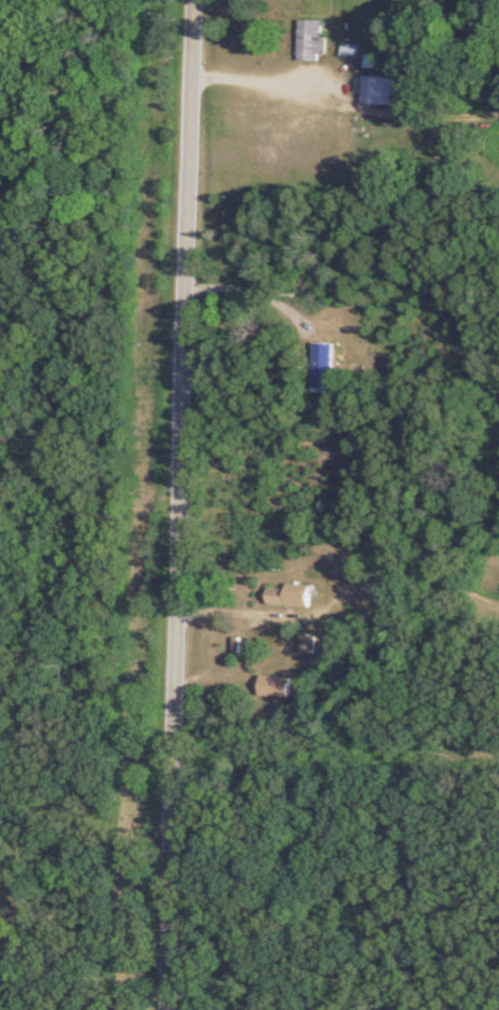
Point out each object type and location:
building: (309, 40)
building: (376, 90)
road: (171, 505)
building: (284, 596)
building: (273, 686)

